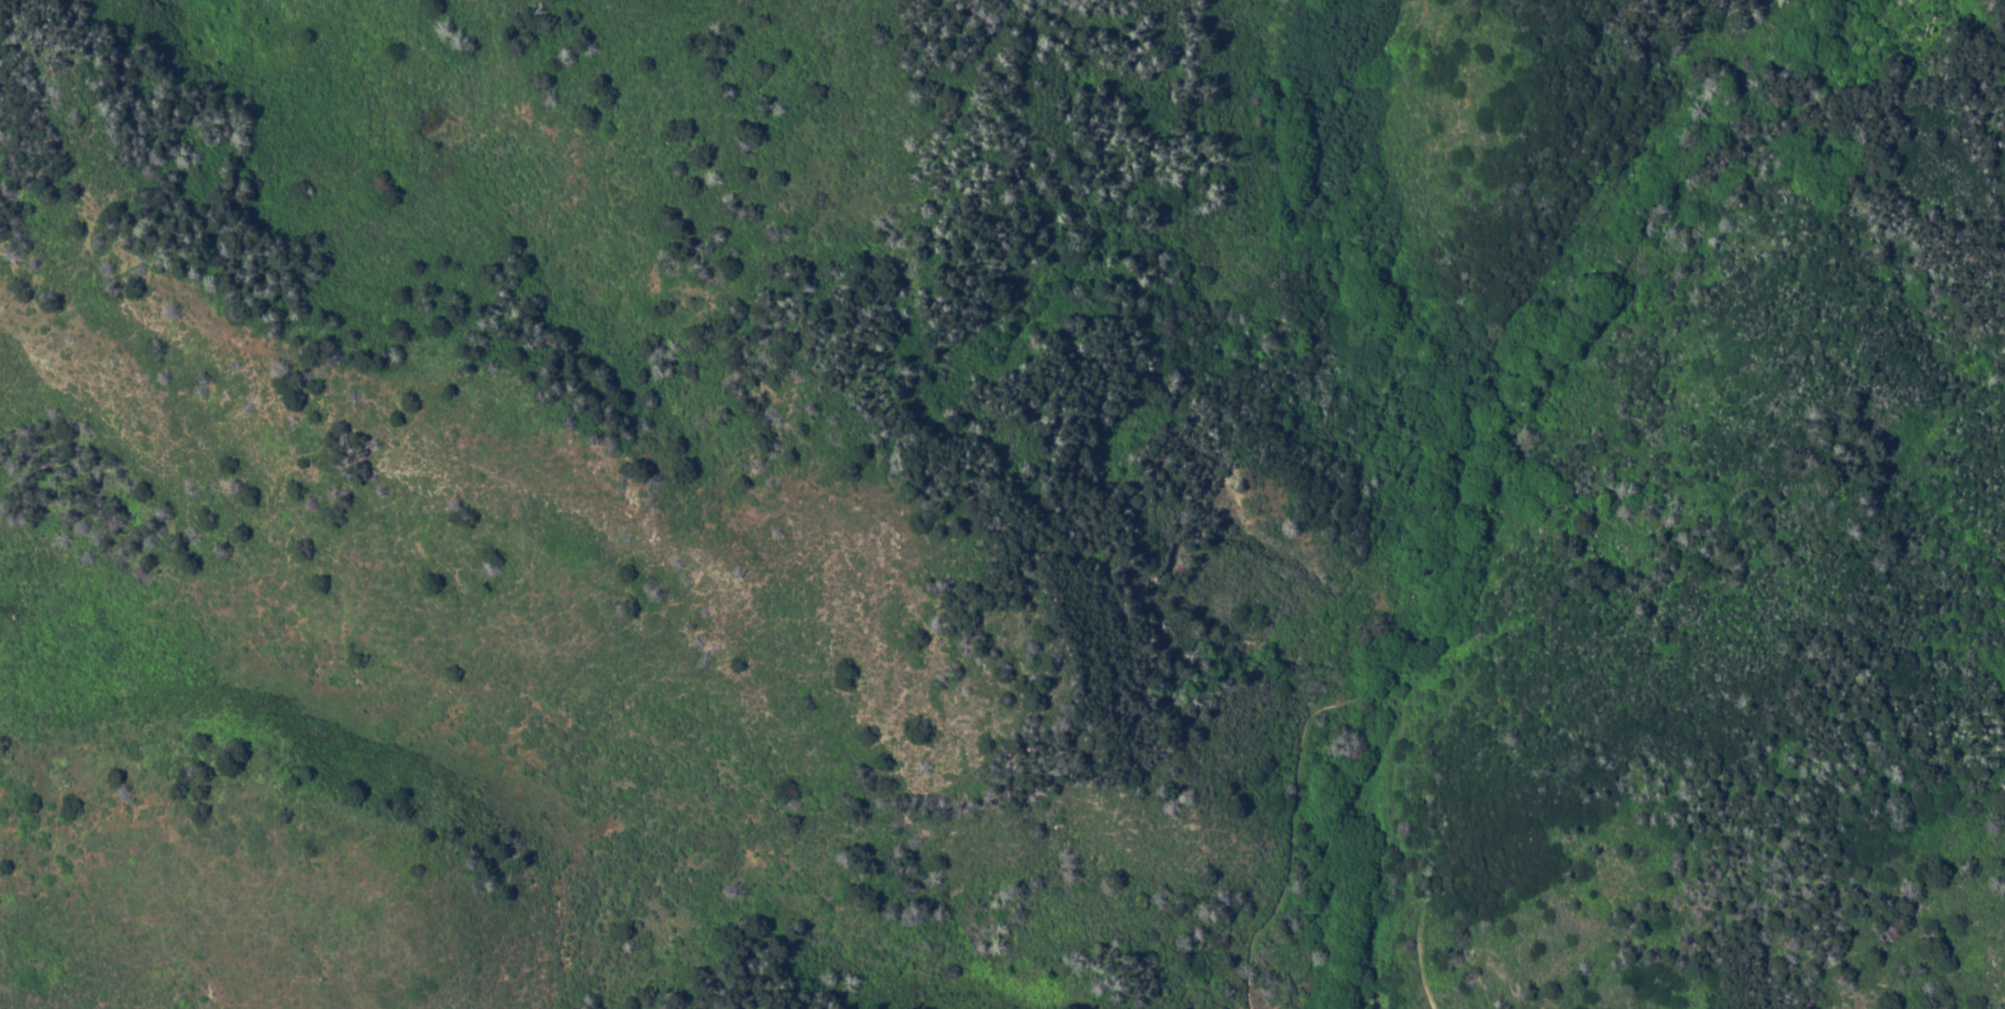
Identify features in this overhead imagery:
road: (1361, 701)

